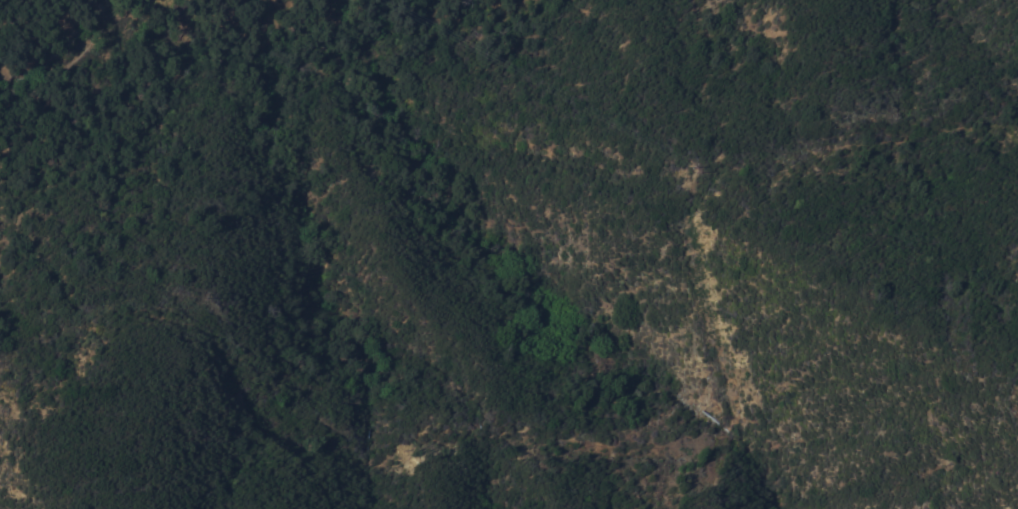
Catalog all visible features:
road: (378, 224)
road: (611, 426)

